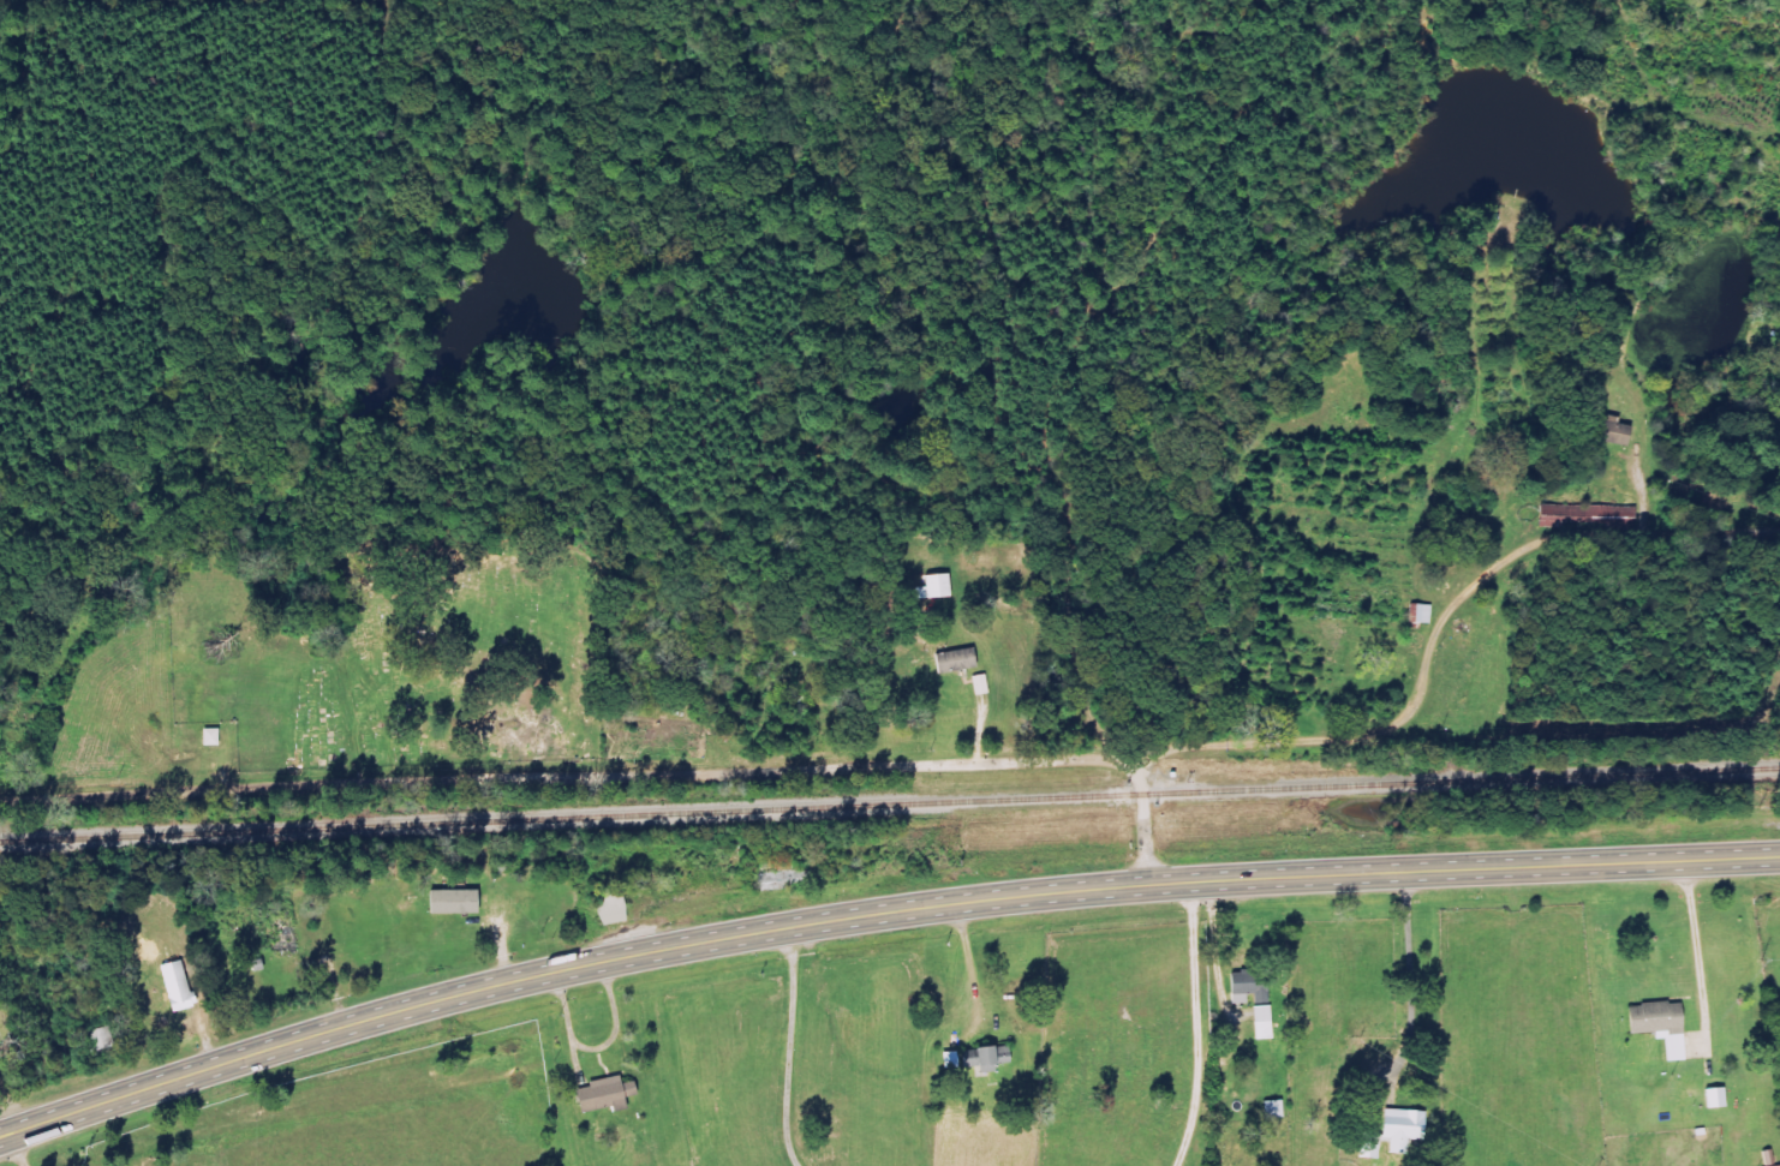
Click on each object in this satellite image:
building: (1615, 431)
building: (1590, 515)
building: (938, 587)
building: (1424, 614)
road: (1444, 624)
park: (452, 659)
building: (958, 660)
building: (982, 684)
building: (217, 737)
road: (569, 778)
railway: (890, 802)
road: (1147, 818)
building: (462, 902)
road: (876, 914)
building: (184, 987)
building: (1252, 989)
building: (1265, 1022)
building: (1662, 1026)
building: (109, 1040)
road: (789, 1047)
building: (996, 1057)
building: (614, 1092)
building: (1715, 1098)
building: (1273, 1110)
building: (1394, 1132)

